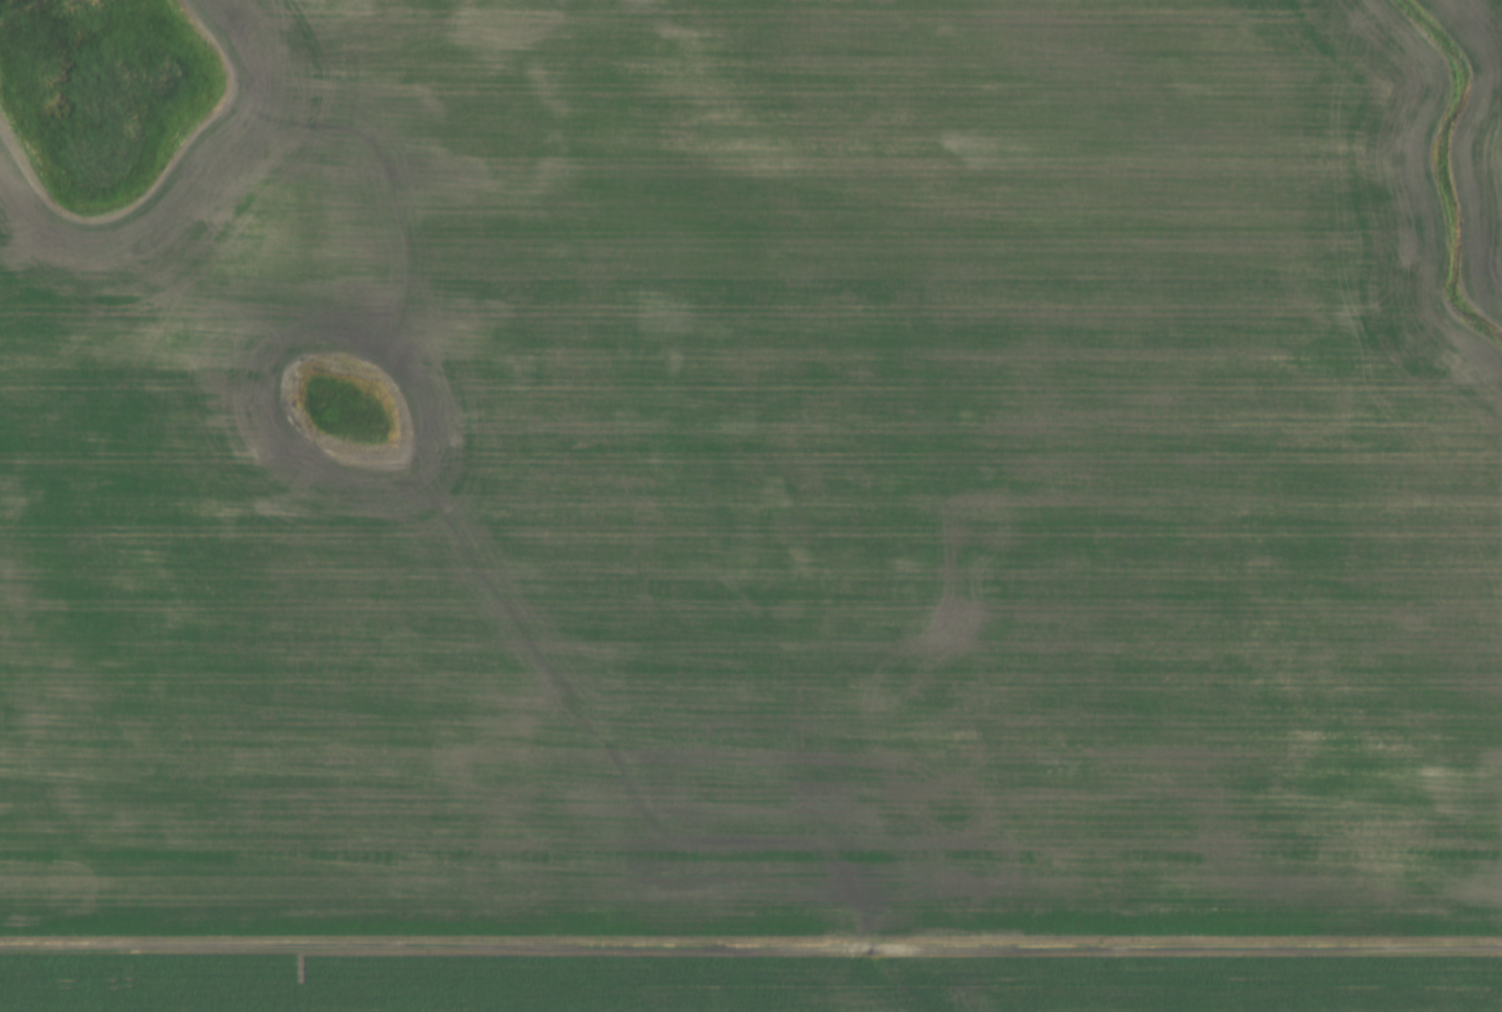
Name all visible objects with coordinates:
road: (750, 956)

